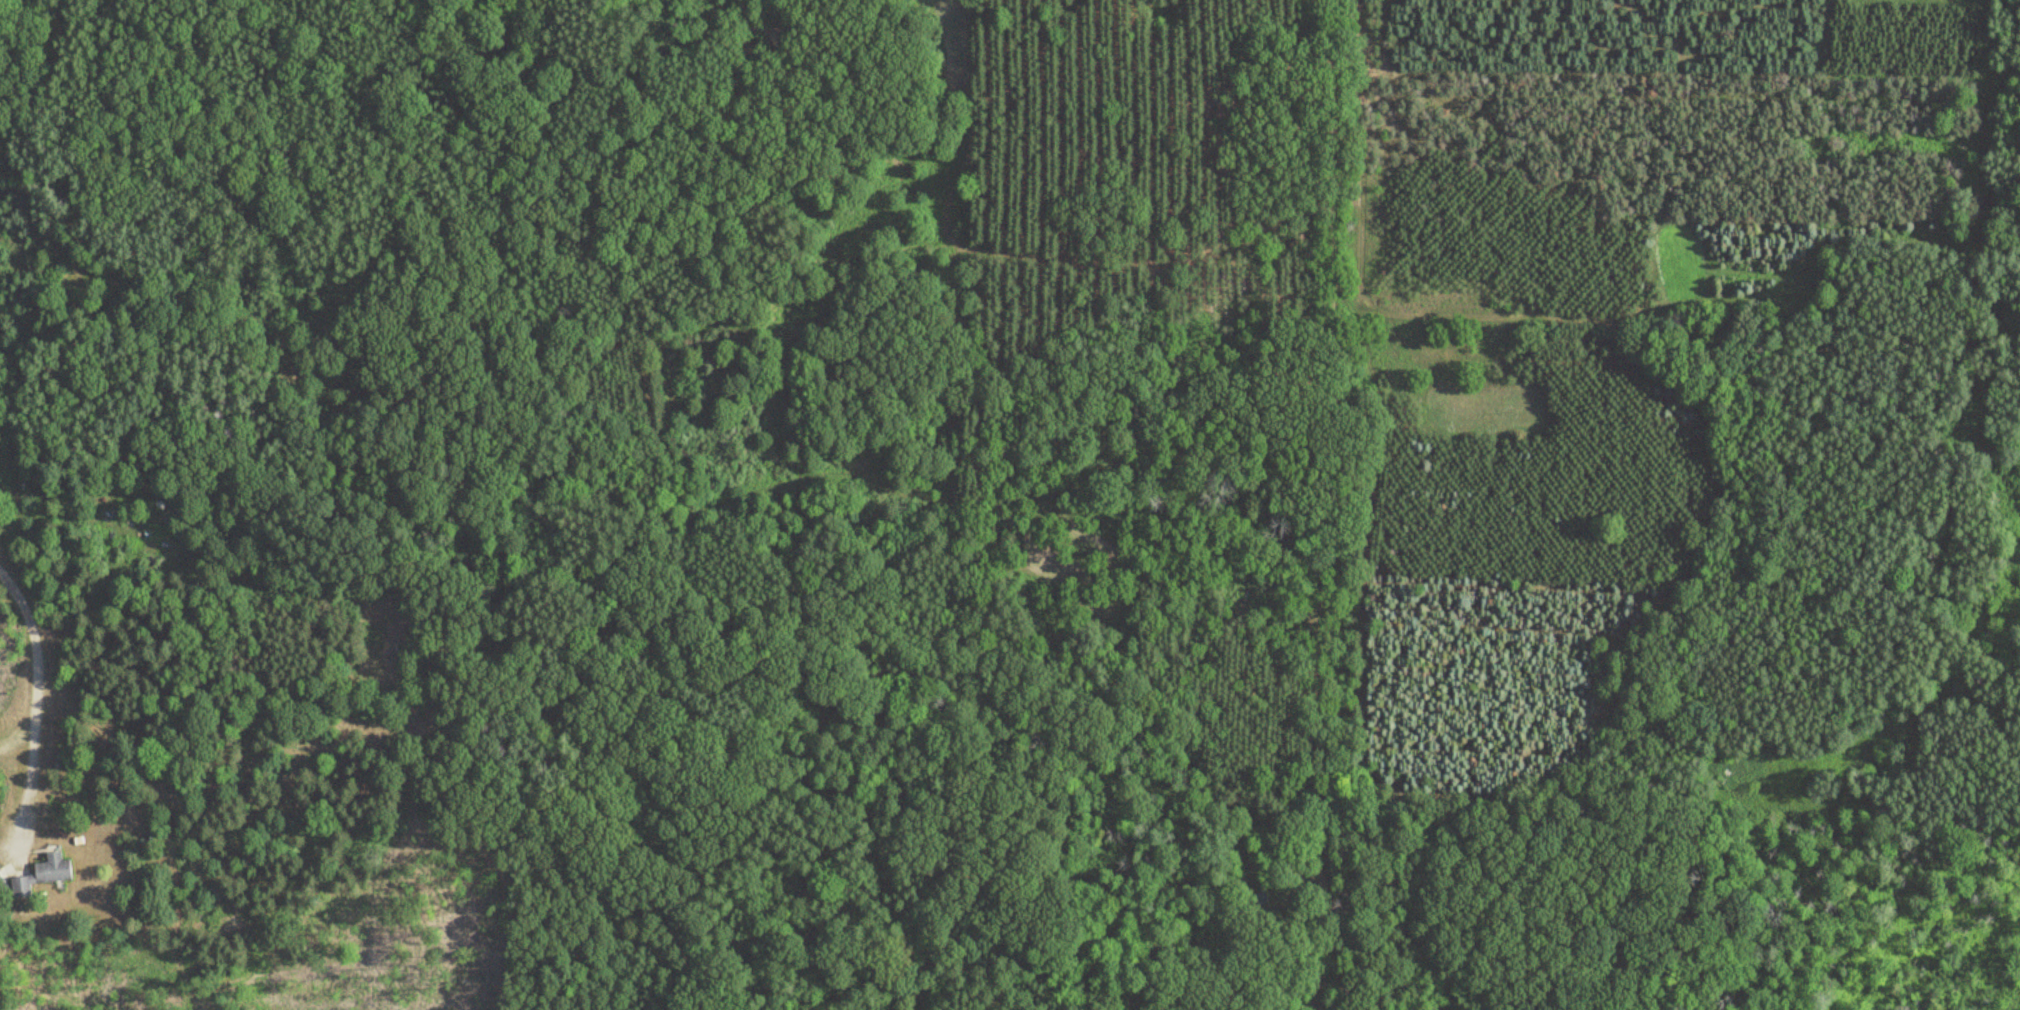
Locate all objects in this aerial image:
road: (1320, 505)
road: (35, 702)
building: (41, 875)

